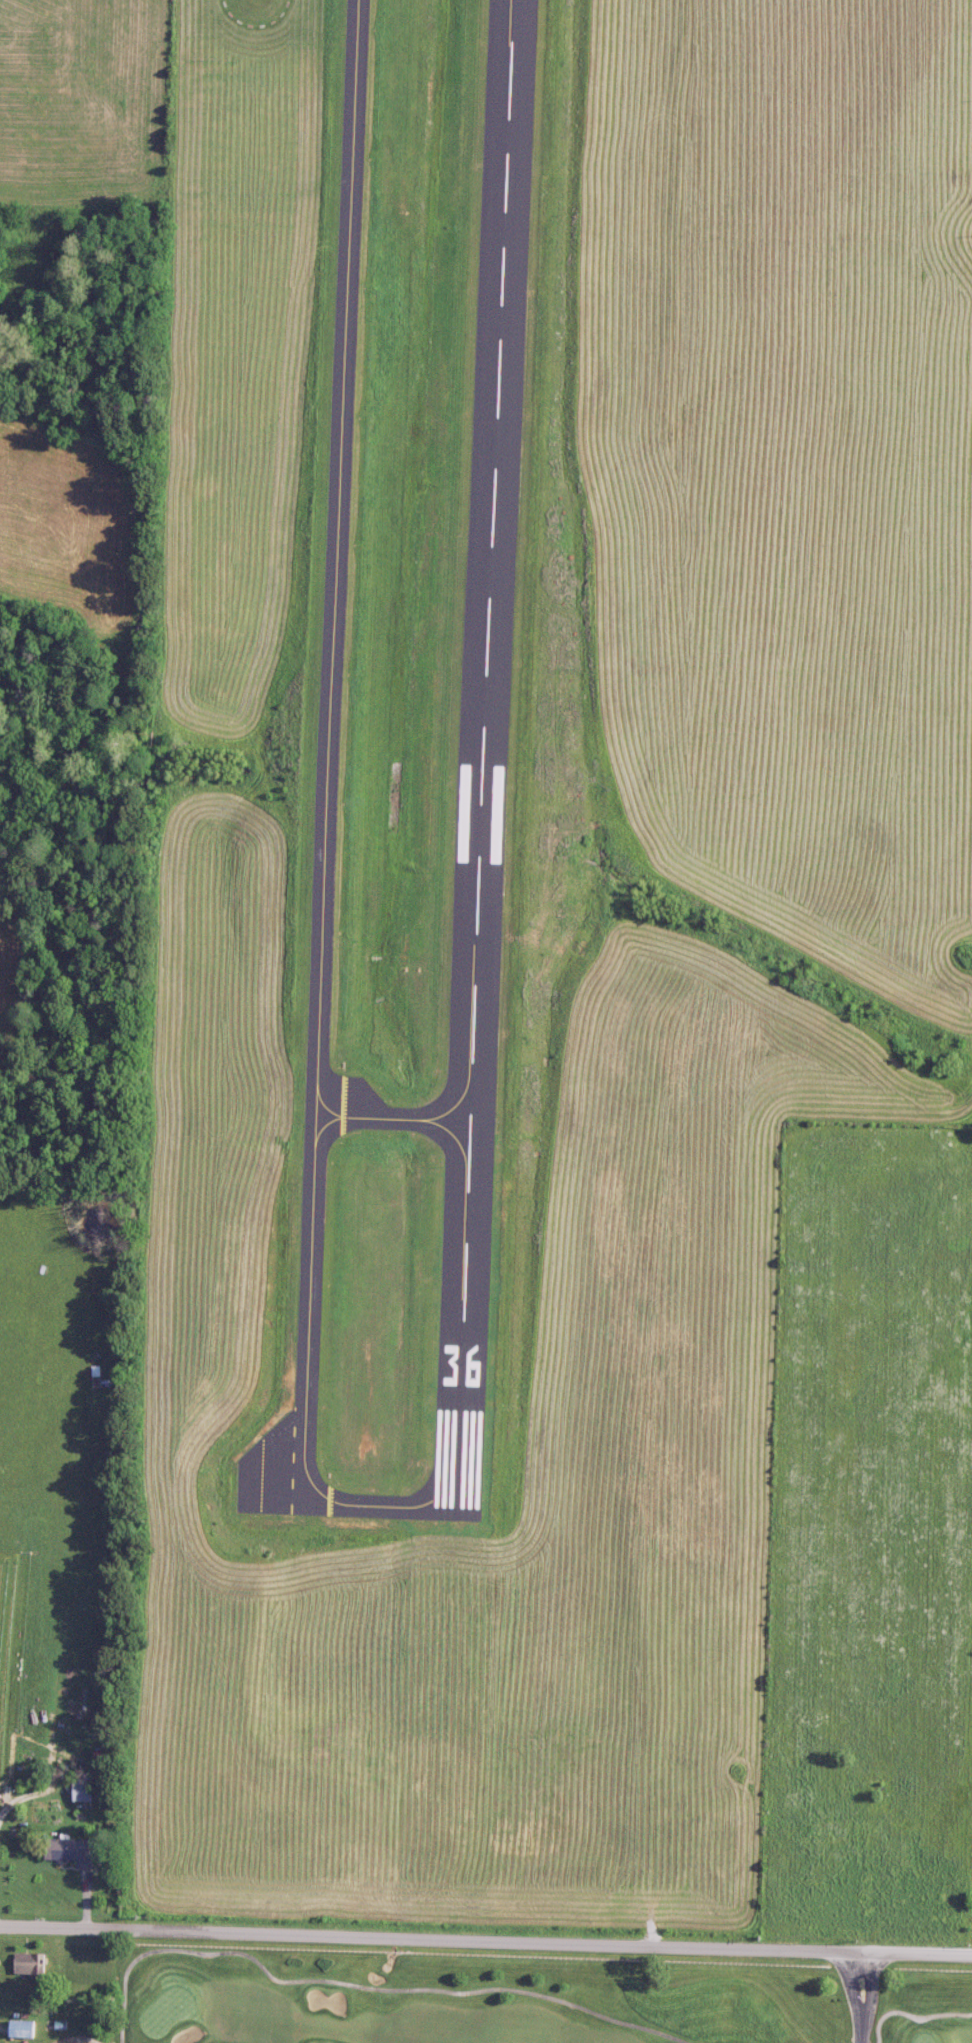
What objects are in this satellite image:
airport runway: (483, 759)
airport taxiway: (326, 817)
airport taxiway: (392, 1117)
building: (87, 1788)
building: (73, 1851)
road: (485, 1943)
road: (145, 1952)
building: (29, 1963)
road: (464, 1992)
park: (500, 1996)
park: (500, 1996)
road: (864, 1998)
road: (911, 2016)
building: (23, 2029)

